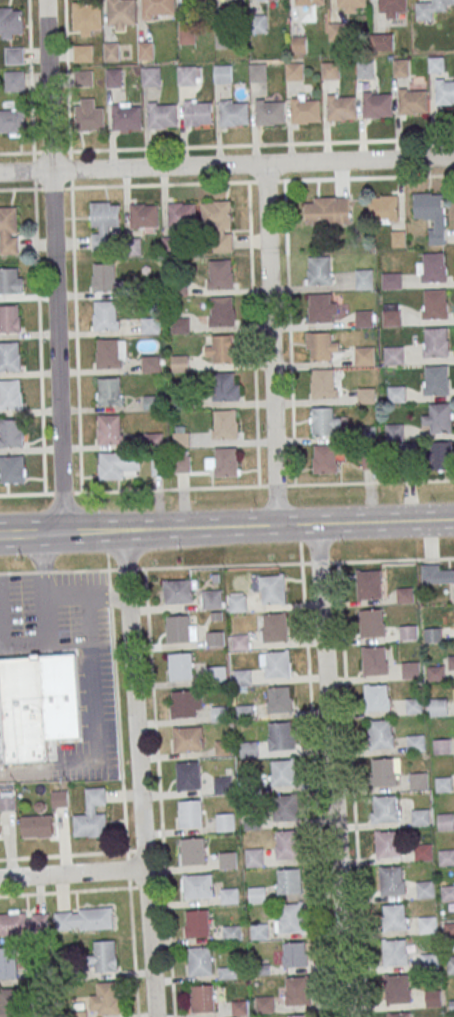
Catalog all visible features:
building: (192, 0)
building: (266, 0)
building: (310, 1)
building: (351, 4)
building: (158, 7)
building: (393, 7)
building: (430, 8)
building: (121, 11)
building: (86, 15)
building: (11, 23)
building: (257, 23)
building: (338, 31)
building: (187, 33)
building: (225, 38)
building: (382, 42)
building: (146, 50)
building: (112, 51)
building: (83, 52)
building: (14, 56)
building: (437, 64)
building: (366, 68)
building: (401, 68)
building: (294, 70)
building: (330, 70)
building: (258, 71)
building: (223, 73)
building: (187, 75)
building: (151, 76)
building: (114, 77)
building: (83, 78)
building: (15, 81)
building: (444, 91)
building: (412, 100)
building: (376, 104)
building: (341, 106)
building: (305, 110)
building: (269, 111)
building: (197, 112)
building: (234, 112)
building: (162, 113)
building: (126, 116)
building: (89, 117)
building: (12, 122)
road: (214, 145)
road: (227, 165)
road: (221, 182)
building: (383, 207)
building: (327, 209)
building: (432, 213)
building: (182, 214)
building: (144, 215)
building: (103, 223)
building: (218, 223)
building: (9, 231)
road: (53, 266)
building: (431, 267)
building: (319, 270)
building: (220, 274)
building: (104, 277)
building: (364, 278)
building: (392, 280)
building: (11, 281)
building: (435, 304)
building: (323, 307)
building: (221, 311)
building: (105, 314)
building: (391, 314)
building: (364, 318)
building: (10, 319)
building: (150, 325)
building: (180, 325)
road: (289, 332)
road: (253, 334)
building: (435, 341)
road: (271, 343)
building: (321, 346)
building: (221, 349)
building: (111, 352)
building: (394, 354)
building: (365, 355)
building: (10, 357)
building: (179, 362)
building: (151, 363)
building: (436, 379)
building: (323, 383)
building: (225, 386)
building: (110, 391)
building: (397, 393)
building: (11, 395)
building: (367, 395)
building: (182, 401)
building: (153, 402)
building: (439, 418)
building: (325, 421)
building: (225, 424)
building: (109, 429)
building: (394, 431)
building: (11, 433)
building: (181, 436)
building: (441, 454)
building: (325, 458)
building: (182, 461)
building: (224, 462)
building: (118, 465)
building: (12, 470)
road: (227, 487)
road: (366, 520)
road: (170, 527)
road: (31, 534)
road: (226, 564)
road: (41, 566)
building: (436, 574)
building: (369, 583)
building: (273, 587)
road: (321, 589)
building: (178, 590)
building: (405, 594)
road: (107, 596)
building: (212, 598)
building: (237, 602)
road: (88, 617)
building: (372, 622)
building: (275, 626)
building: (178, 628)
building: (408, 632)
building: (433, 634)
building: (215, 638)
building: (240, 641)
building: (374, 659)
building: (278, 663)
building: (451, 664)
building: (181, 665)
building: (410, 669)
building: (435, 672)
building: (217, 674)
building: (377, 697)
building: (279, 698)
building: (183, 703)
building: (414, 705)
building: (438, 706)
building: (22, 711)
building: (245, 711)
building: (220, 713)
building: (380, 732)
building: (280, 735)
building: (185, 738)
building: (416, 742)
building: (442, 745)
building: (224, 747)
building: (249, 748)
building: (384, 771)
building: (283, 772)
road: (138, 773)
building: (188, 775)
building: (418, 780)
building: (444, 783)
building: (223, 784)
road: (316, 789)
road: (352, 789)
road: (159, 792)
road: (122, 793)
building: (59, 799)
building: (286, 806)
building: (385, 808)
building: (190, 812)
building: (92, 815)
building: (420, 816)
building: (445, 820)
building: (225, 821)
building: (0, 826)
building: (37, 826)
road: (336, 836)
building: (288, 843)
building: (388, 843)
building: (193, 850)
building: (422, 851)
road: (63, 855)
building: (446, 856)
building: (254, 857)
building: (228, 860)
road: (71, 873)
building: (391, 879)
building: (289, 880)
building: (198, 885)
building: (425, 888)
road: (64, 891)
building: (447, 892)
building: (257, 894)
building: (229, 895)
building: (394, 916)
building: (291, 917)
building: (83, 919)
building: (197, 922)
building: (23, 923)
building: (427, 924)
building: (449, 929)
building: (259, 931)
building: (232, 932)
building: (395, 951)
building: (294, 953)
building: (104, 956)
building: (200, 960)
building: (429, 960)
building: (8, 963)
building: (450, 964)
building: (398, 988)
building: (297, 990)
building: (202, 997)
building: (432, 997)
building: (104, 1000)
building: (9, 1003)
building: (264, 1003)
building: (240, 1007)
building: (400, 1014)
building: (300, 1015)

